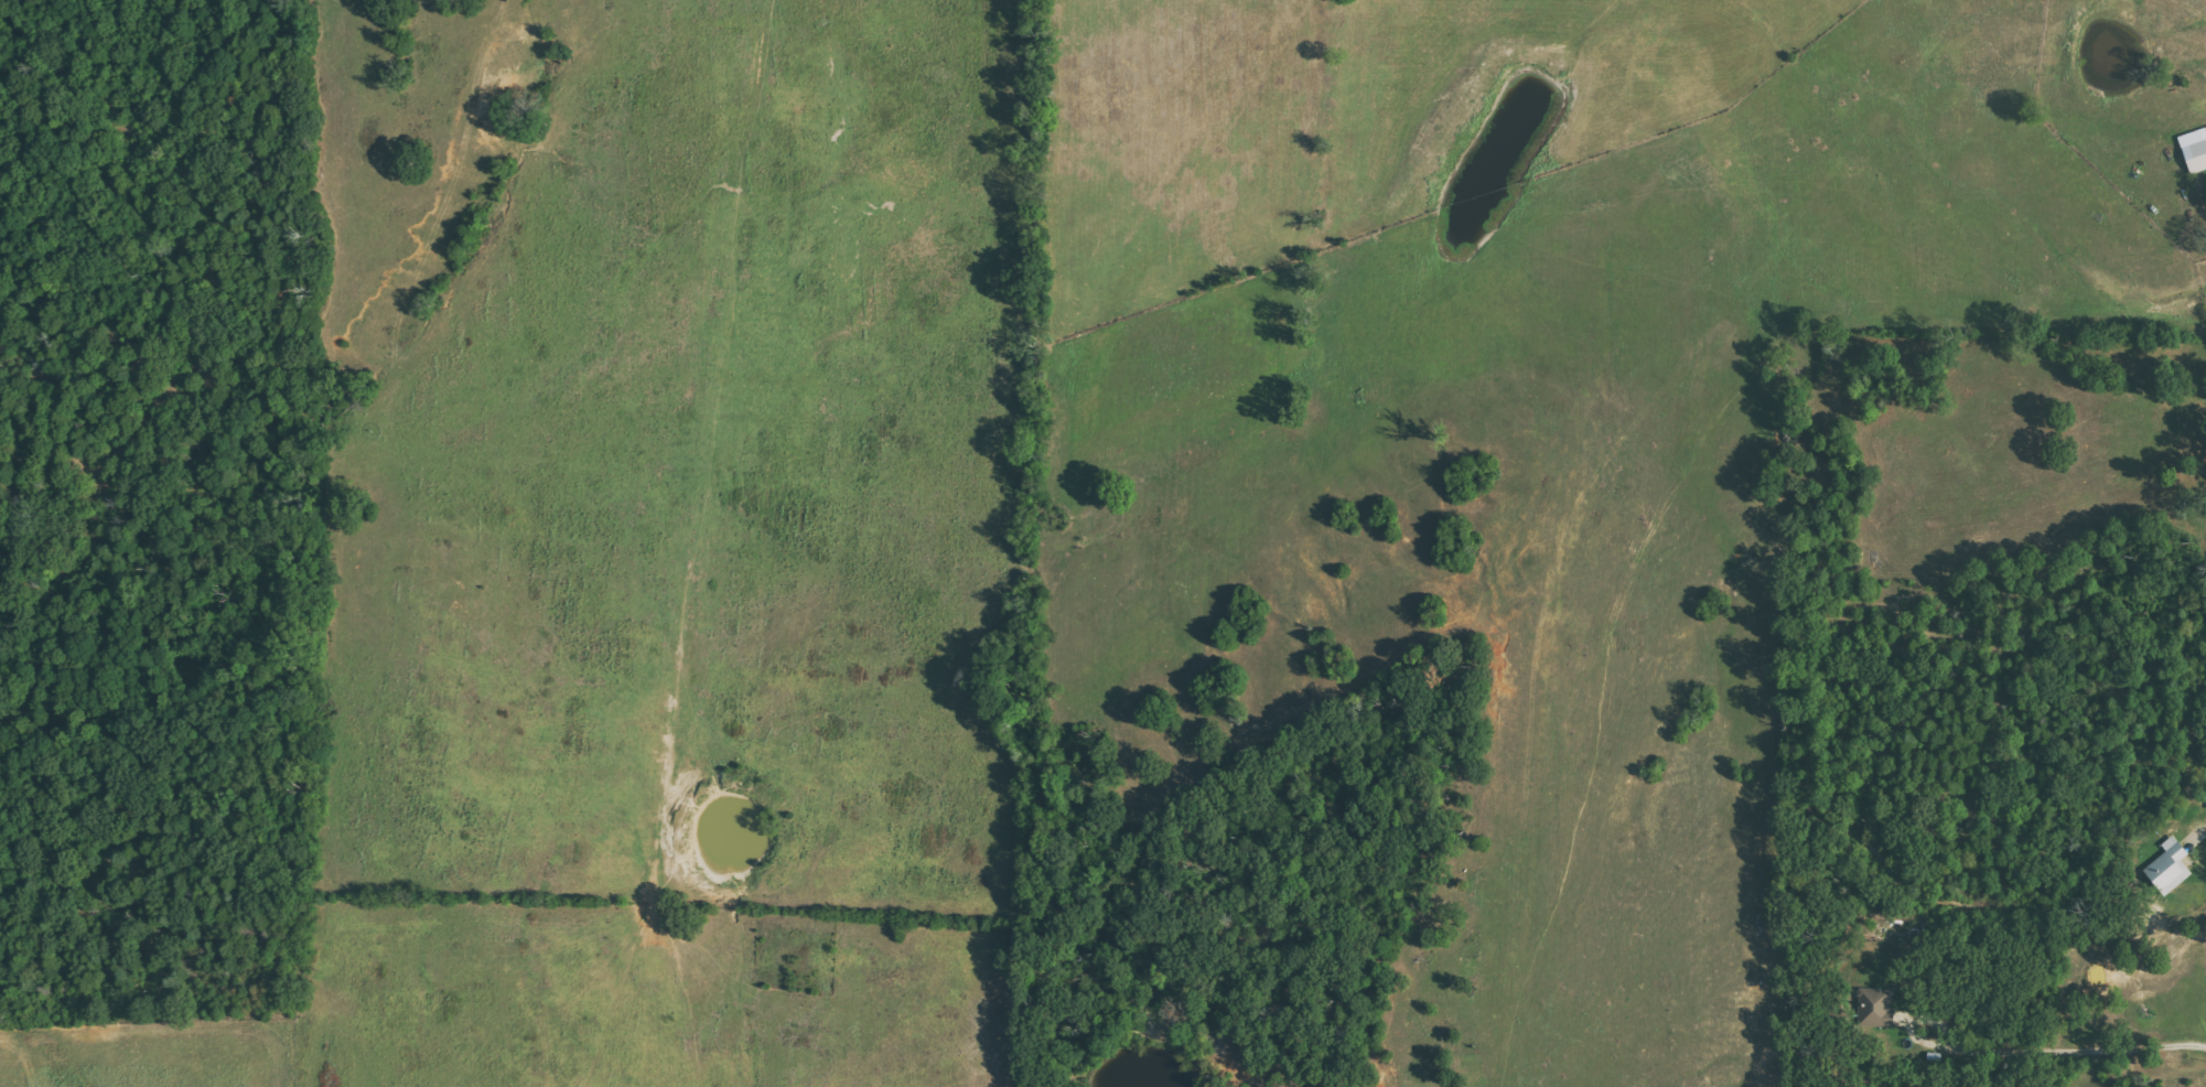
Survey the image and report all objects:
building: (2195, 149)
road: (2203, 829)
building: (2169, 867)
building: (1876, 1007)
road: (2057, 1045)

